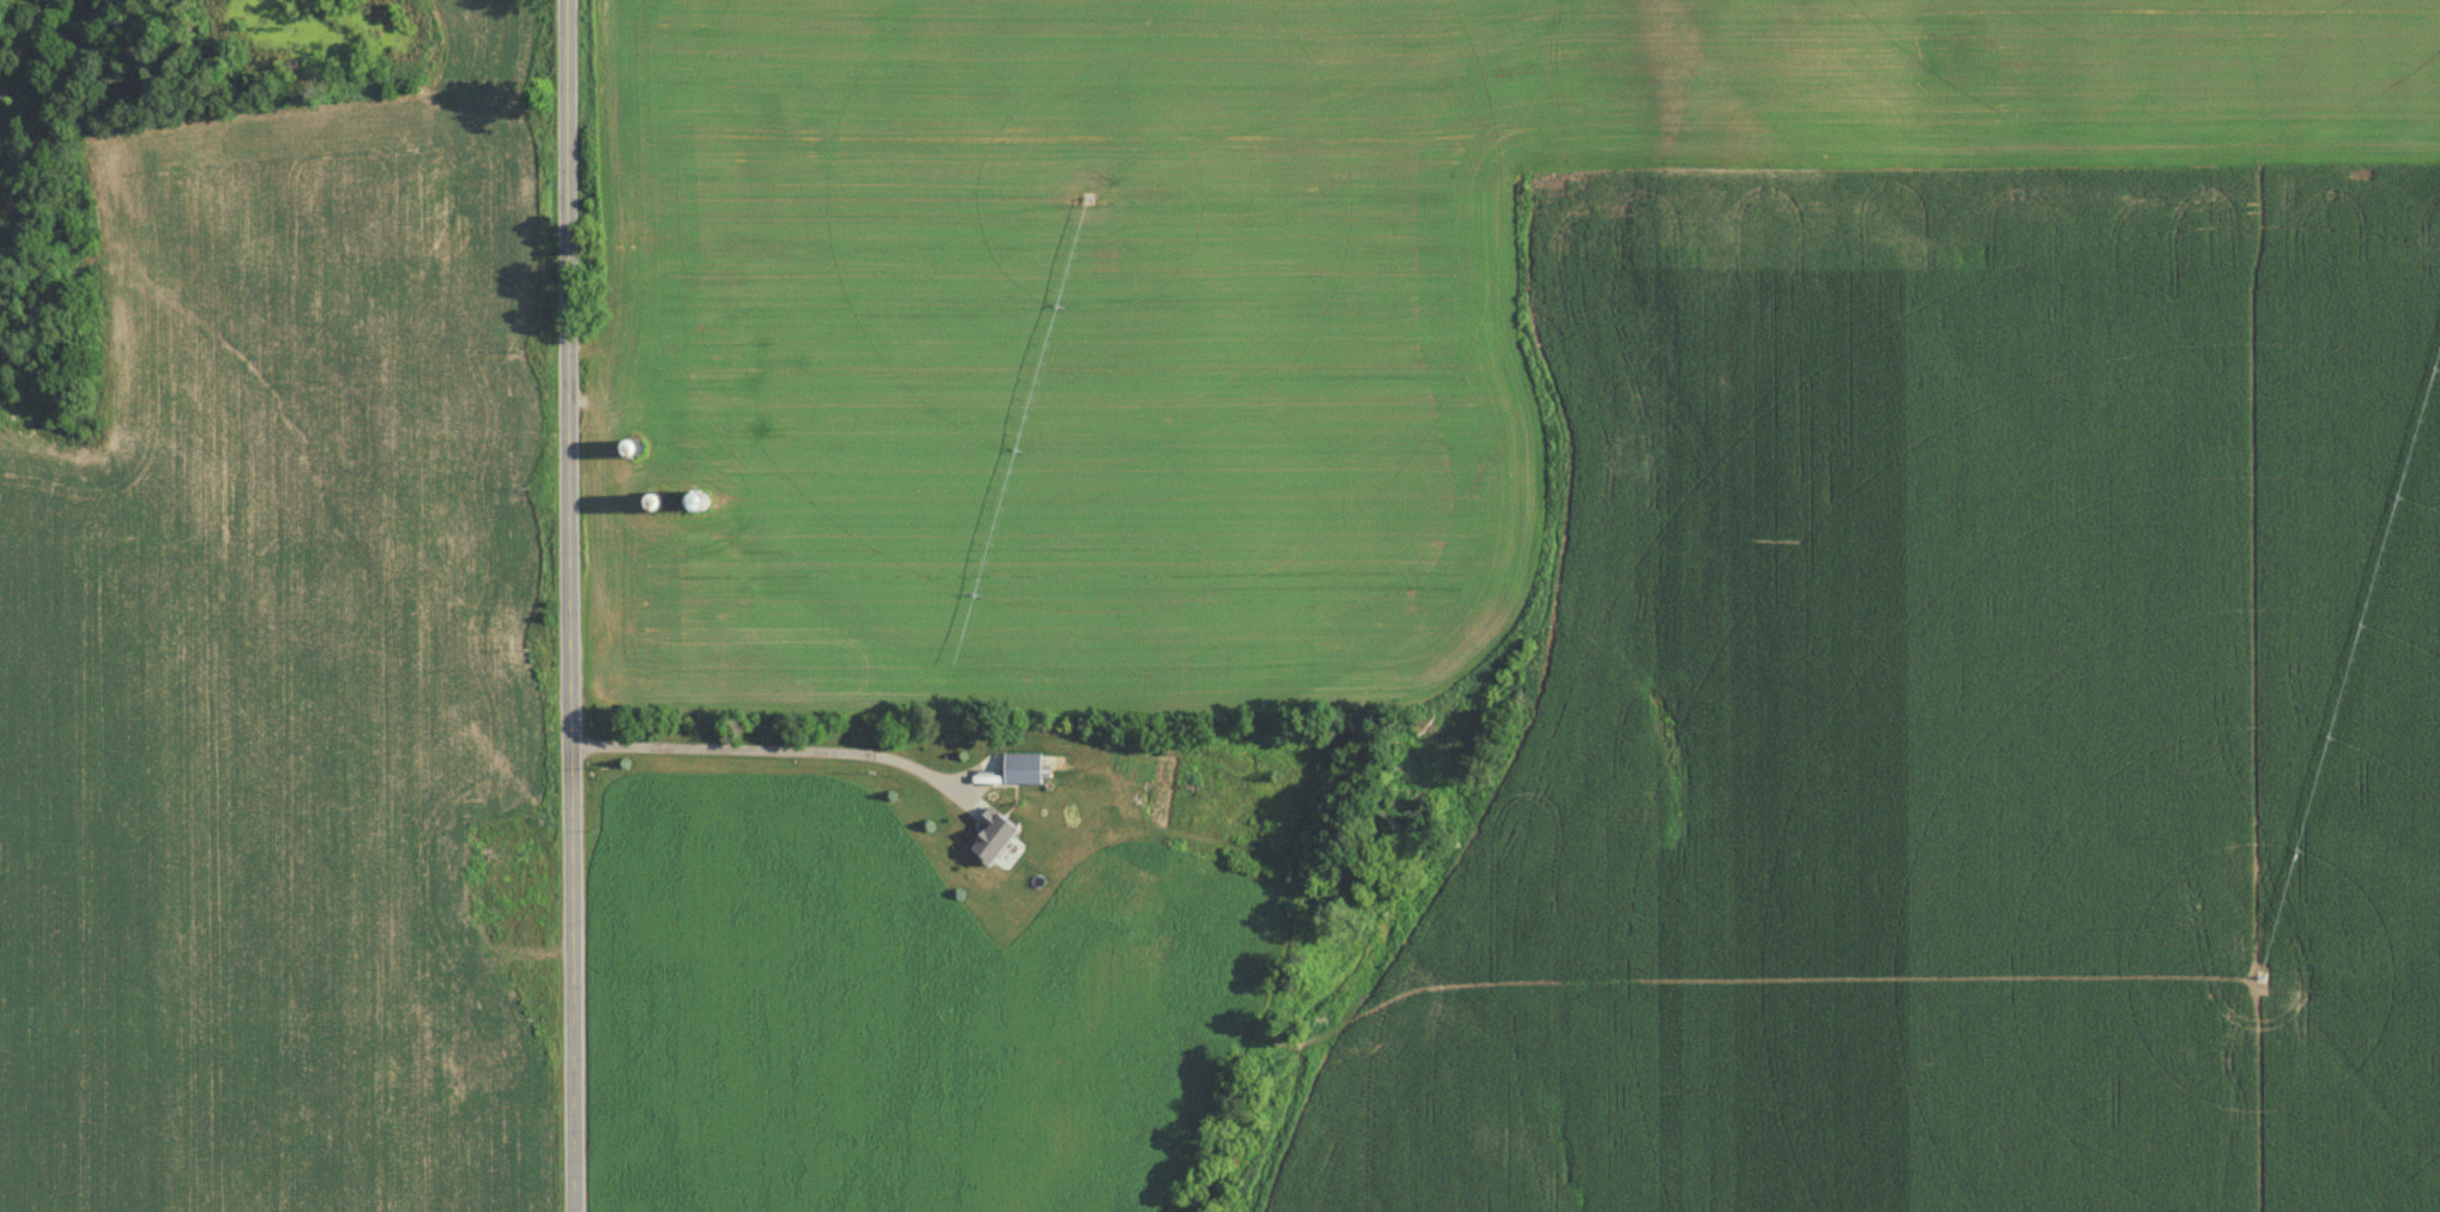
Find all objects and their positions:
road: (572, 606)
road: (766, 750)
building: (1028, 769)
building: (995, 840)

